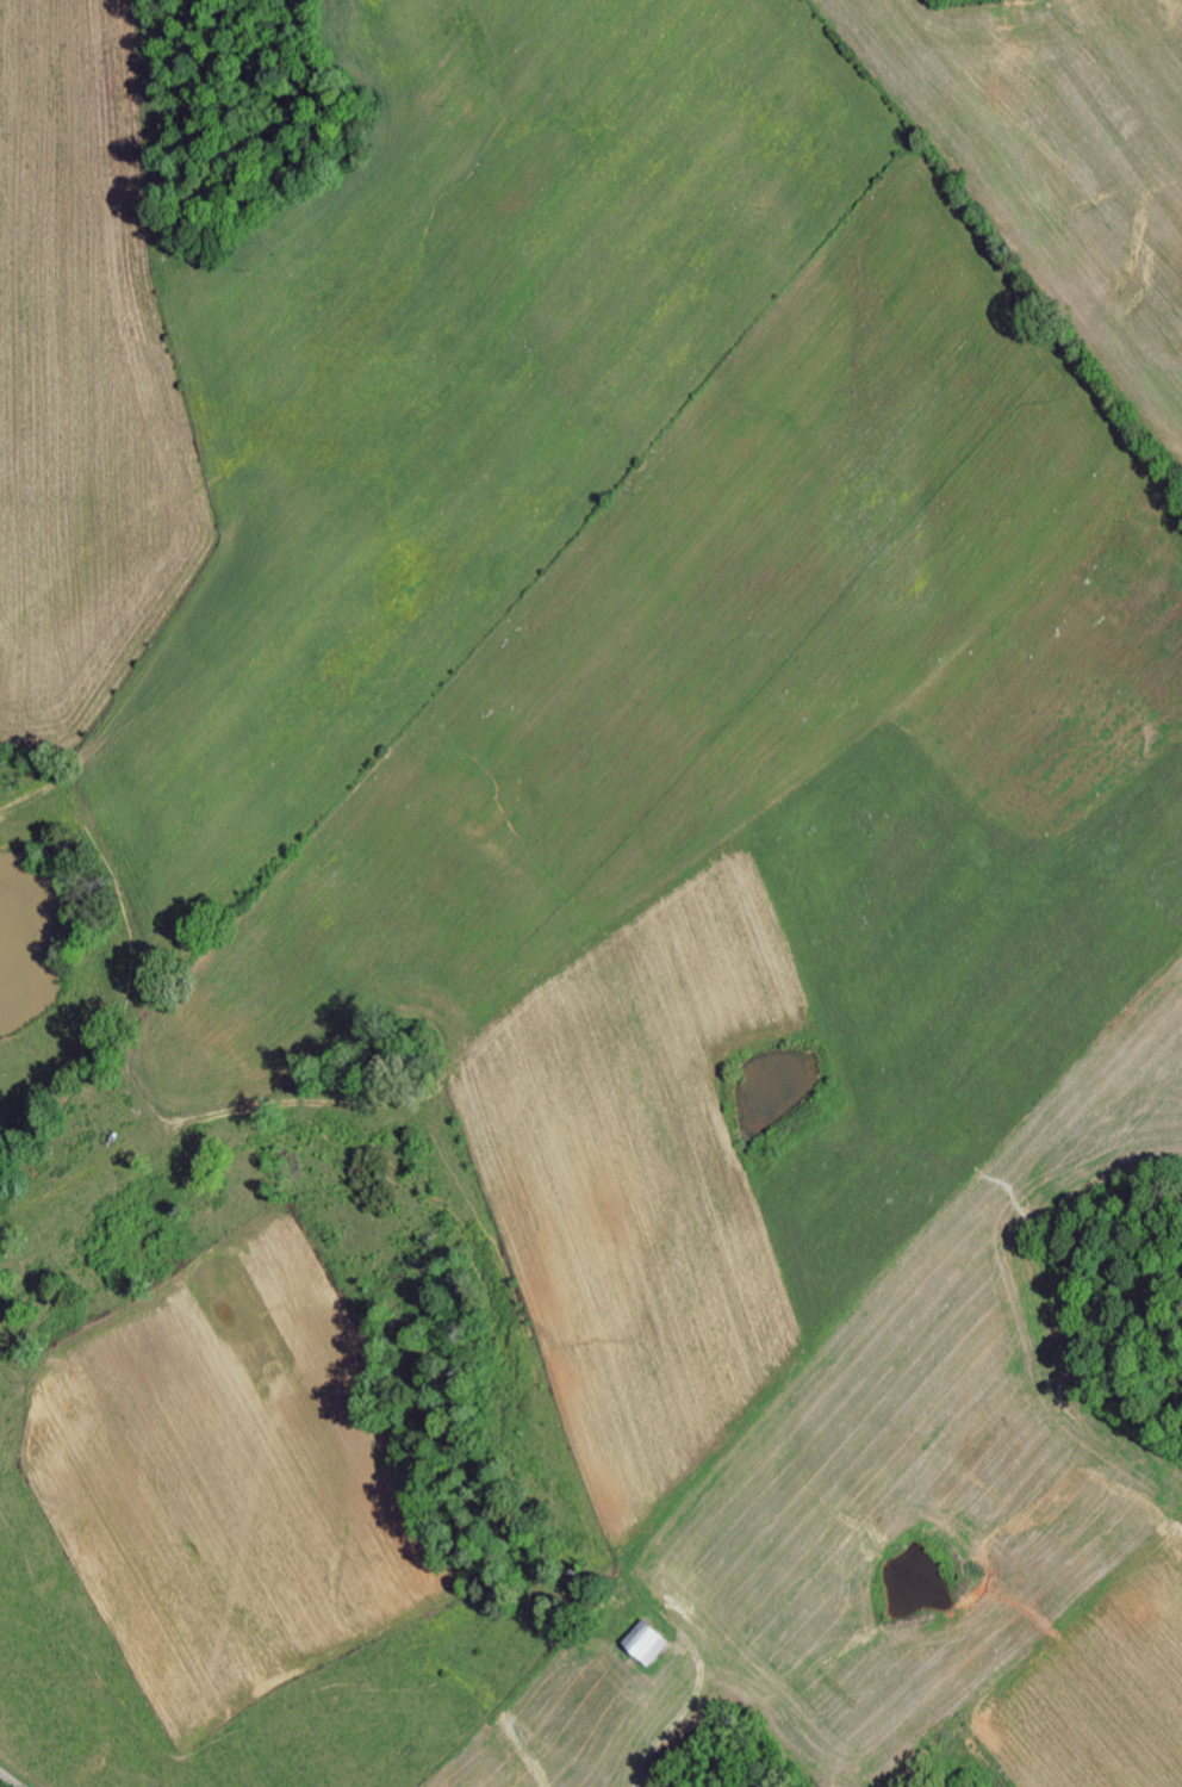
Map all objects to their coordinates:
road: (629, 1744)
road: (11, 1777)

